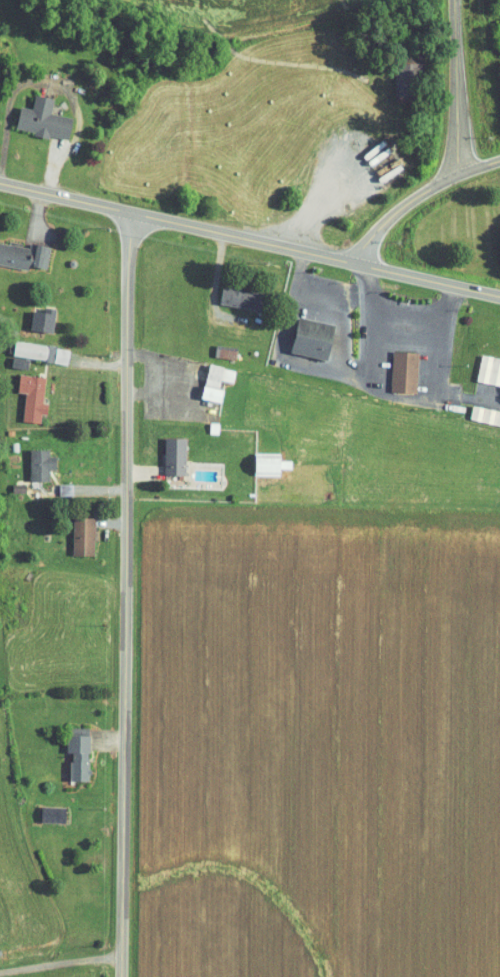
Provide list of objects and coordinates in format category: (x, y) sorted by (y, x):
building: (397, 74)
road: (460, 87)
building: (33, 113)
road: (413, 198)
road: (67, 201)
road: (243, 242)
building: (19, 250)
road: (425, 282)
building: (228, 291)
building: (33, 314)
building: (304, 333)
building: (18, 347)
building: (484, 365)
building: (393, 366)
building: (207, 376)
building: (22, 392)
building: (480, 410)
building: (165, 450)
building: (260, 458)
building: (30, 459)
building: (73, 531)
road: (125, 597)
building: (69, 747)
building: (42, 809)
road: (58, 960)

